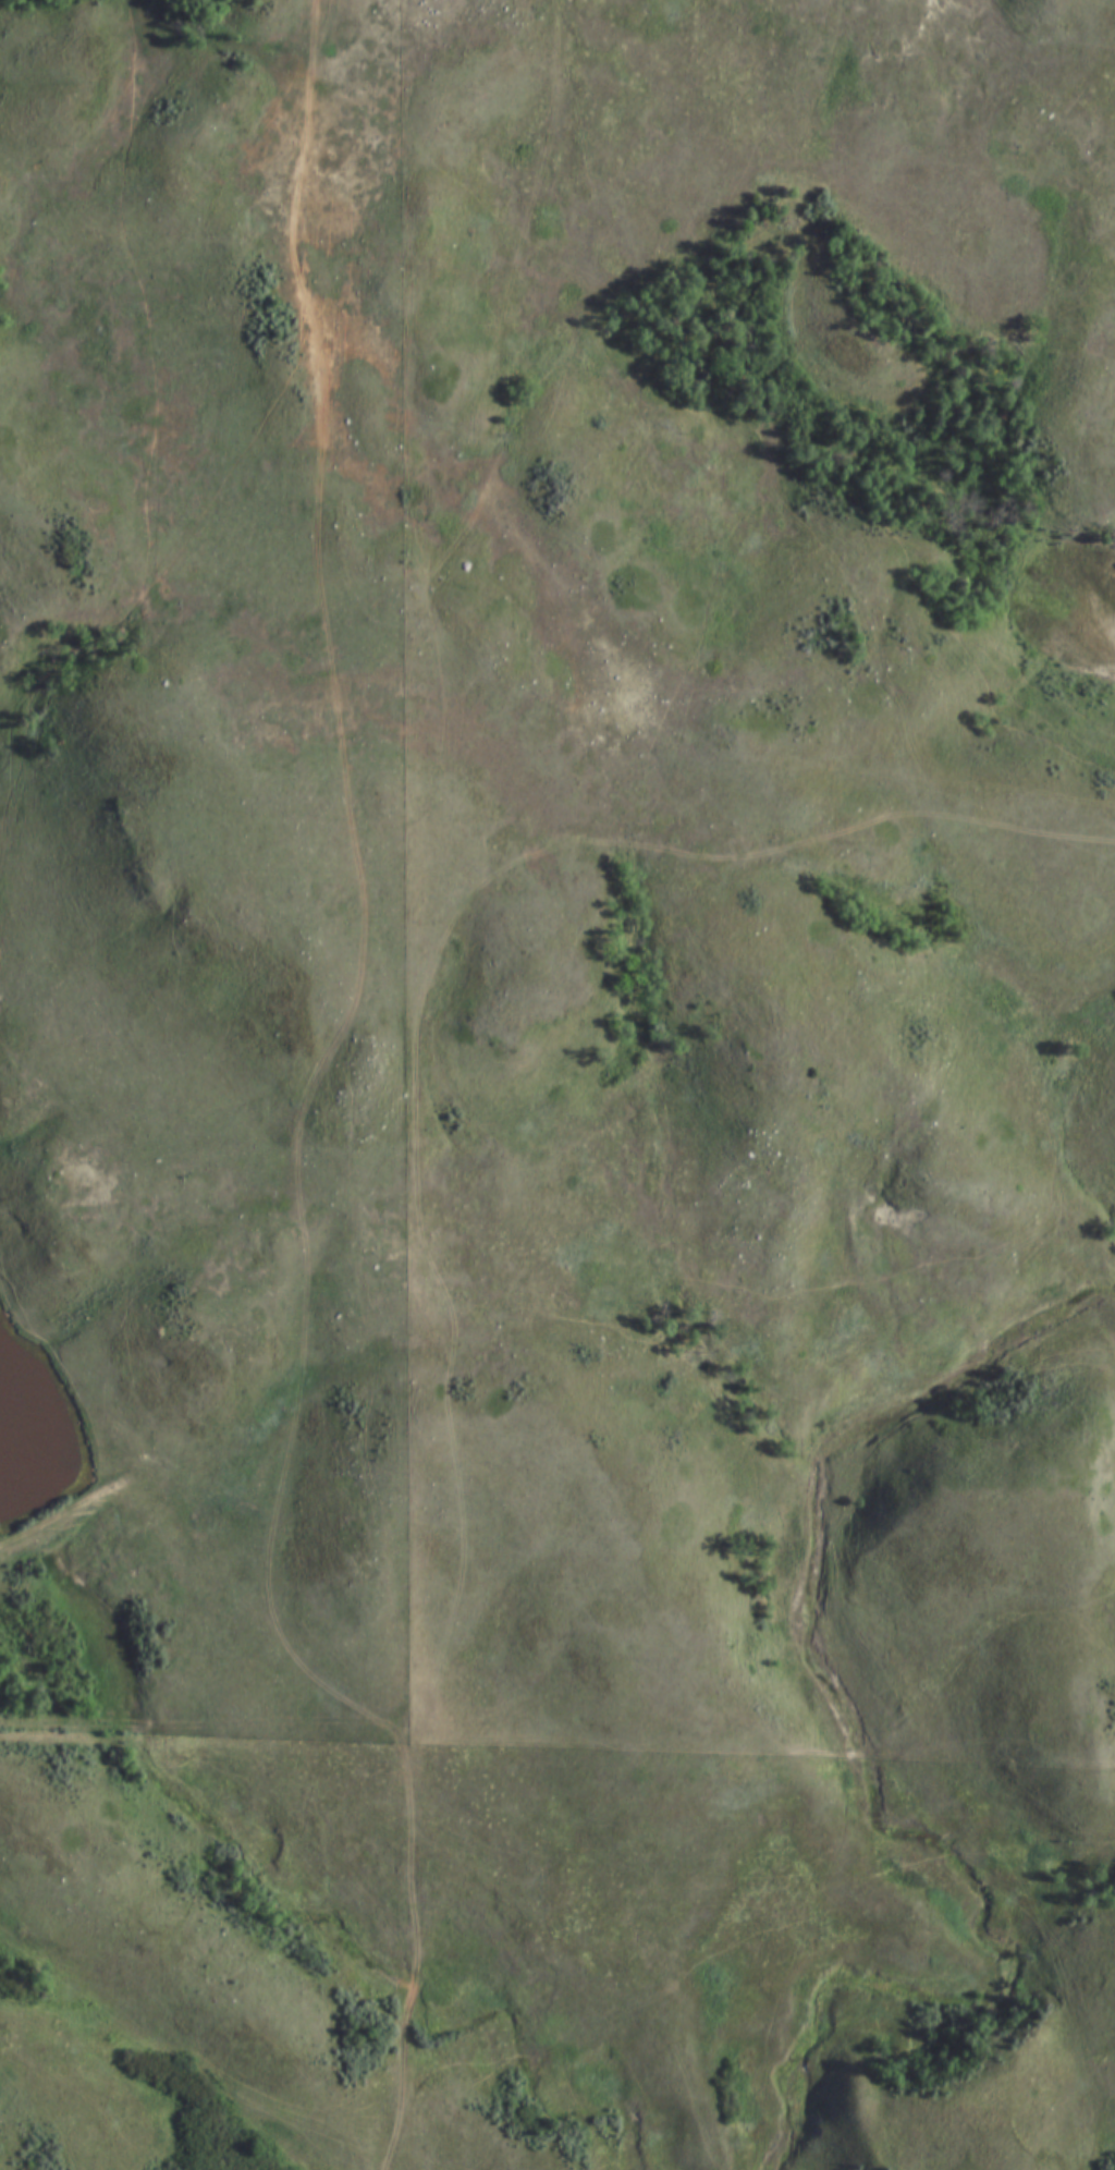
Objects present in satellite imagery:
road: (395, 1997)

